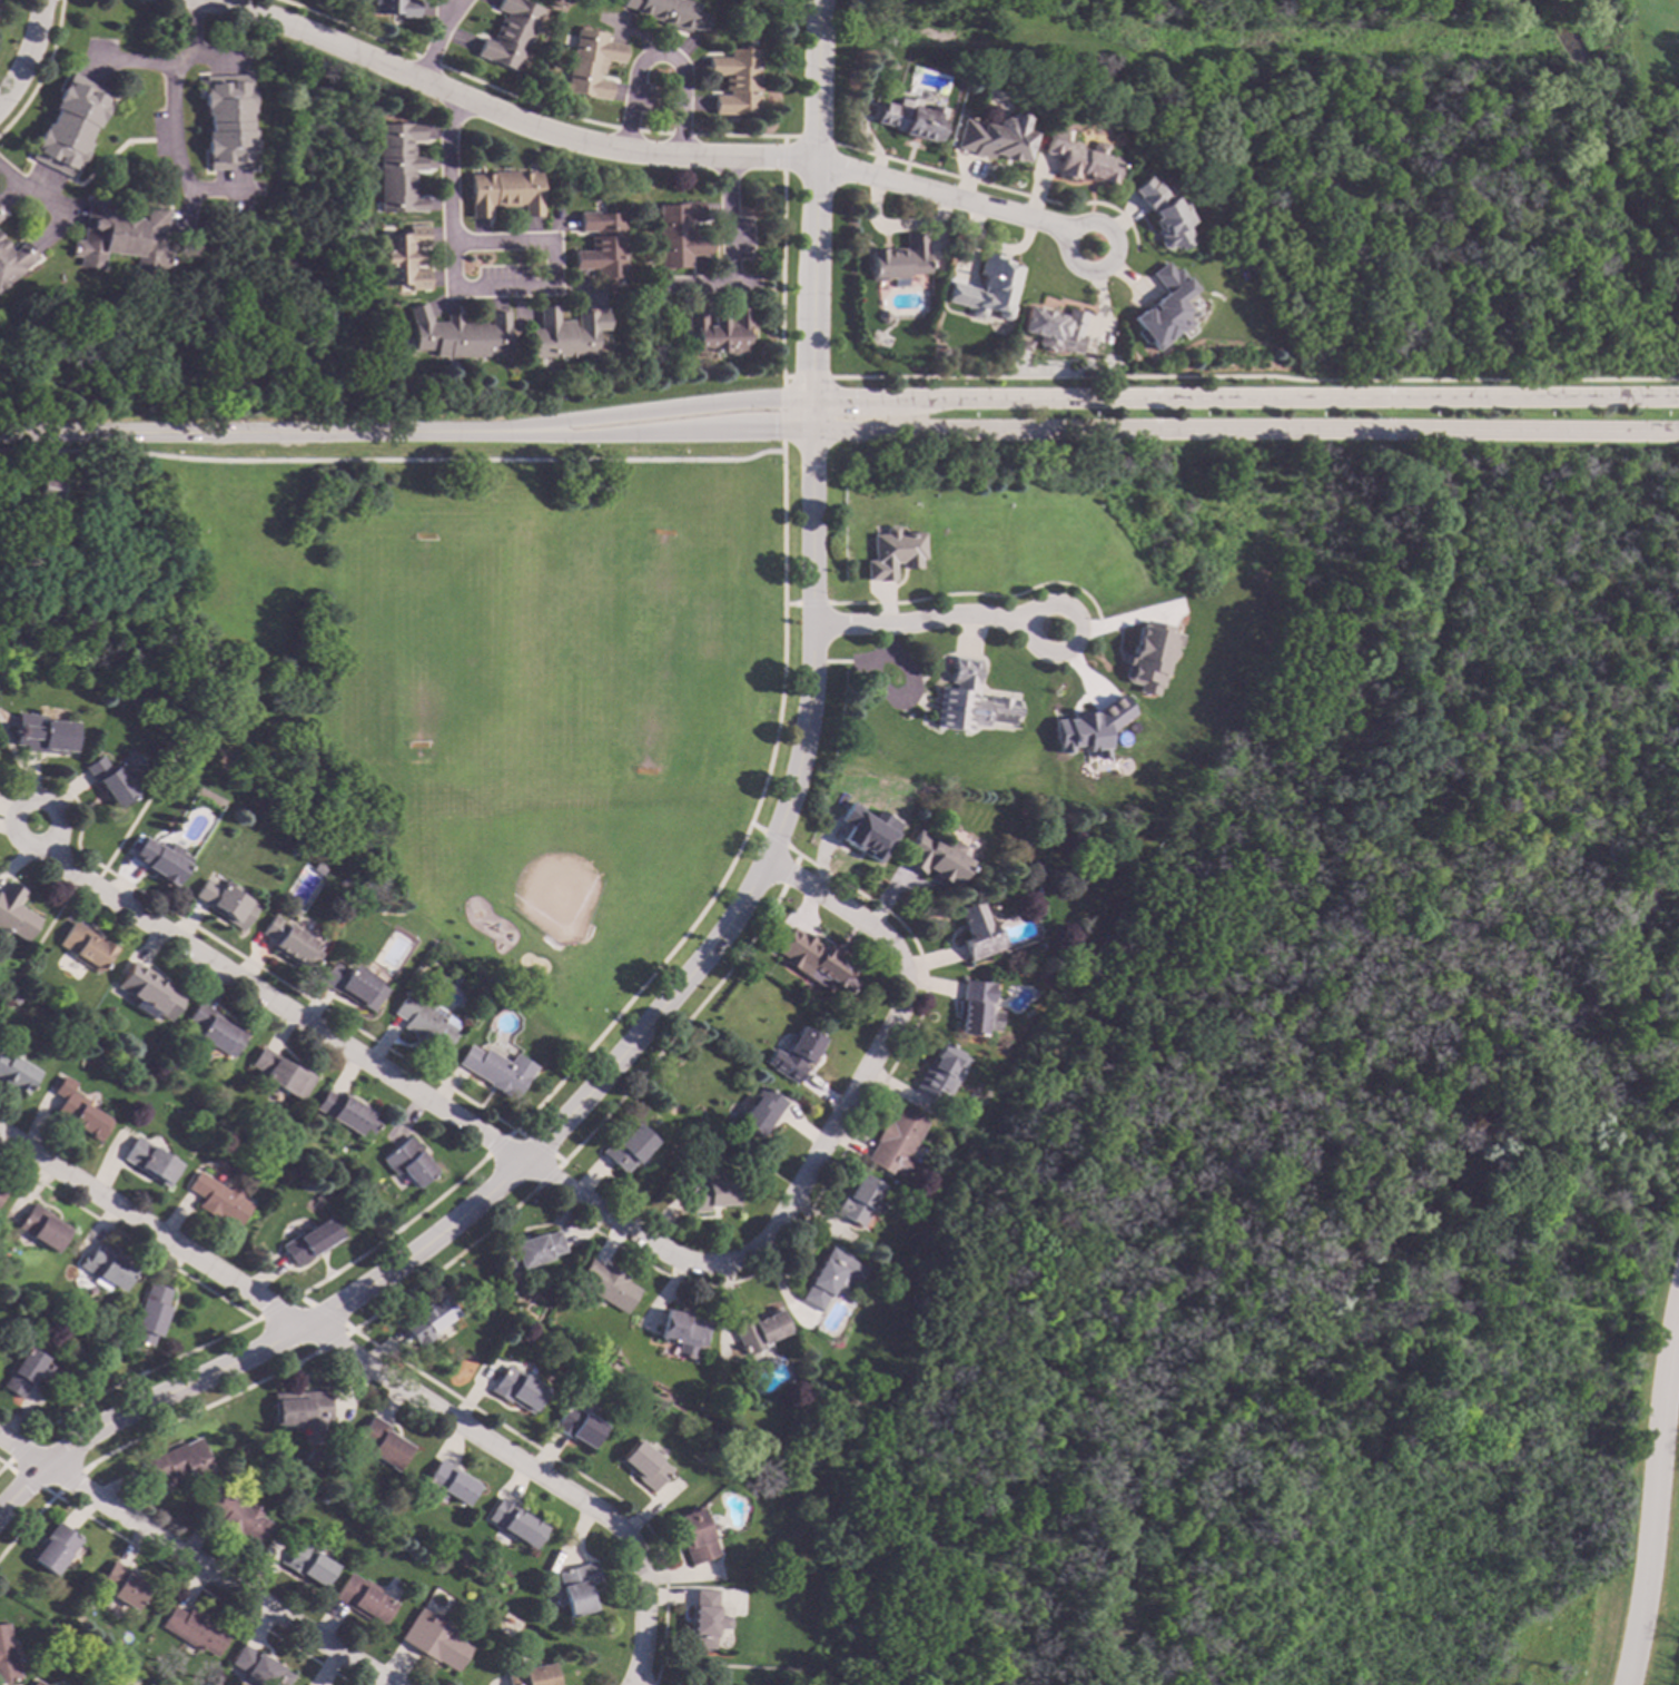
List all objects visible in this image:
building: (396, 7)
park: (794, 8)
building: (669, 12)
road: (447, 17)
building: (510, 32)
river: (1485, 46)
road: (432, 50)
road: (28, 55)
road: (658, 55)
building: (590, 63)
road: (817, 79)
building: (735, 80)
road: (503, 116)
building: (910, 118)
building: (227, 121)
road: (175, 124)
building: (70, 125)
building: (995, 137)
road: (107, 157)
building: (1084, 160)
park: (1395, 164)
building: (398, 167)
road: (445, 168)
road: (40, 183)
building: (504, 191)
road: (31, 193)
road: (944, 196)
building: (0, 211)
building: (1163, 214)
building: (0, 215)
building: (679, 234)
building: (122, 237)
building: (600, 244)
road: (727, 248)
building: (403, 257)
building: (13, 259)
building: (897, 260)
road: (1073, 264)
road: (813, 278)
road: (546, 286)
building: (985, 288)
building: (1161, 308)
building: (882, 316)
building: (1050, 326)
building: (719, 329)
building: (457, 334)
building: (563, 334)
building: (1021, 345)
road: (1245, 398)
road: (781, 414)
road: (678, 415)
road: (1245, 430)
road: (678, 431)
road: (273, 433)
building: (46, 497)
building: (892, 552)
road: (930, 619)
park: (66, 622)
park: (421, 648)
building: (1146, 657)
park: (632, 658)
building: (967, 700)
building: (1087, 728)
building: (42, 735)
building: (108, 780)
road: (140, 804)
road: (56, 815)
building: (865, 832)
building: (931, 855)
building: (159, 860)
park: (546, 863)
building: (316, 868)
building: (224, 903)
building: (13, 914)
building: (976, 930)
road: (39, 936)
building: (289, 943)
building: (82, 946)
building: (413, 969)
building: (822, 969)
building: (352, 985)
building: (148, 991)
road: (278, 1005)
building: (975, 1008)
building: (423, 1021)
building: (215, 1031)
building: (792, 1054)
building: (494, 1070)
building: (938, 1071)
building: (14, 1073)
building: (279, 1074)
road: (595, 1078)
building: (77, 1111)
building: (345, 1113)
building: (757, 1113)
building: (893, 1140)
building: (625, 1149)
road: (817, 1150)
building: (149, 1161)
park: (1337, 1161)
building: (406, 1162)
building: (1, 1190)
building: (708, 1193)
building: (217, 1200)
building: (857, 1201)
building: (261, 1213)
building: (42, 1228)
road: (151, 1230)
building: (309, 1241)
building: (529, 1252)
river: (1374, 1264)
building: (106, 1268)
building: (827, 1278)
building: (604, 1284)
building: (149, 1314)
building: (427, 1319)
building: (757, 1330)
building: (681, 1332)
building: (28, 1372)
building: (515, 1389)
building: (302, 1410)
building: (575, 1426)
building: (379, 1443)
road: (21, 1449)
building: (310, 1458)
building: (179, 1462)
building: (641, 1466)
road: (529, 1470)
building: (446, 1482)
road: (1651, 1490)
building: (238, 1517)
building: (514, 1523)
building: (692, 1535)
building: (55, 1548)
building: (486, 1560)
building: (307, 1565)
road: (217, 1574)
building: (122, 1585)
building: (575, 1588)
building: (362, 1598)
building: (701, 1618)
building: (195, 1629)
building: (432, 1639)
building: (6, 1656)
road: (715, 1664)
building: (258, 1667)
building: (531, 1675)
building: (36, 1683)

